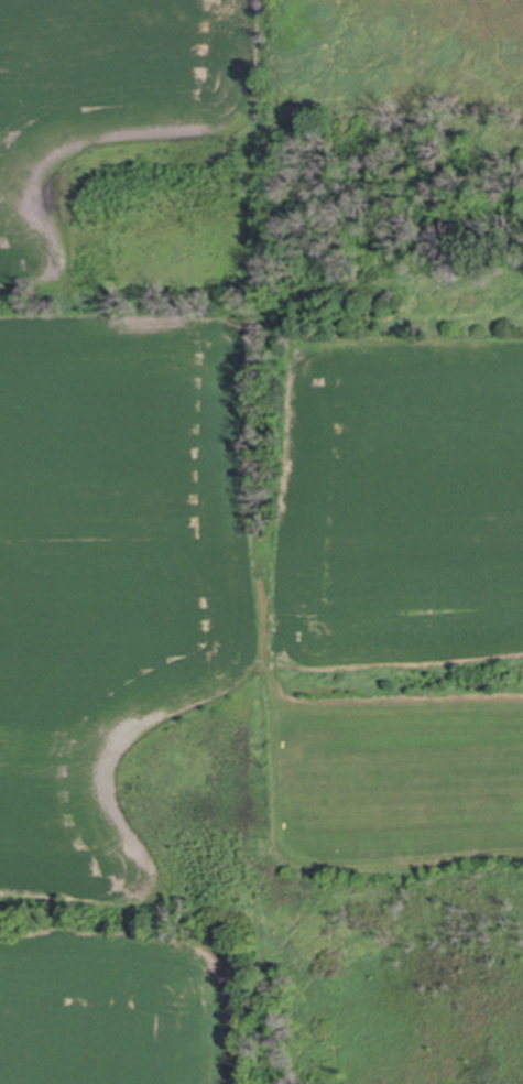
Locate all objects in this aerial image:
airport: (399, 460)
crop: (404, 503)
crop: (112, 549)
airport runway: (433, 783)

